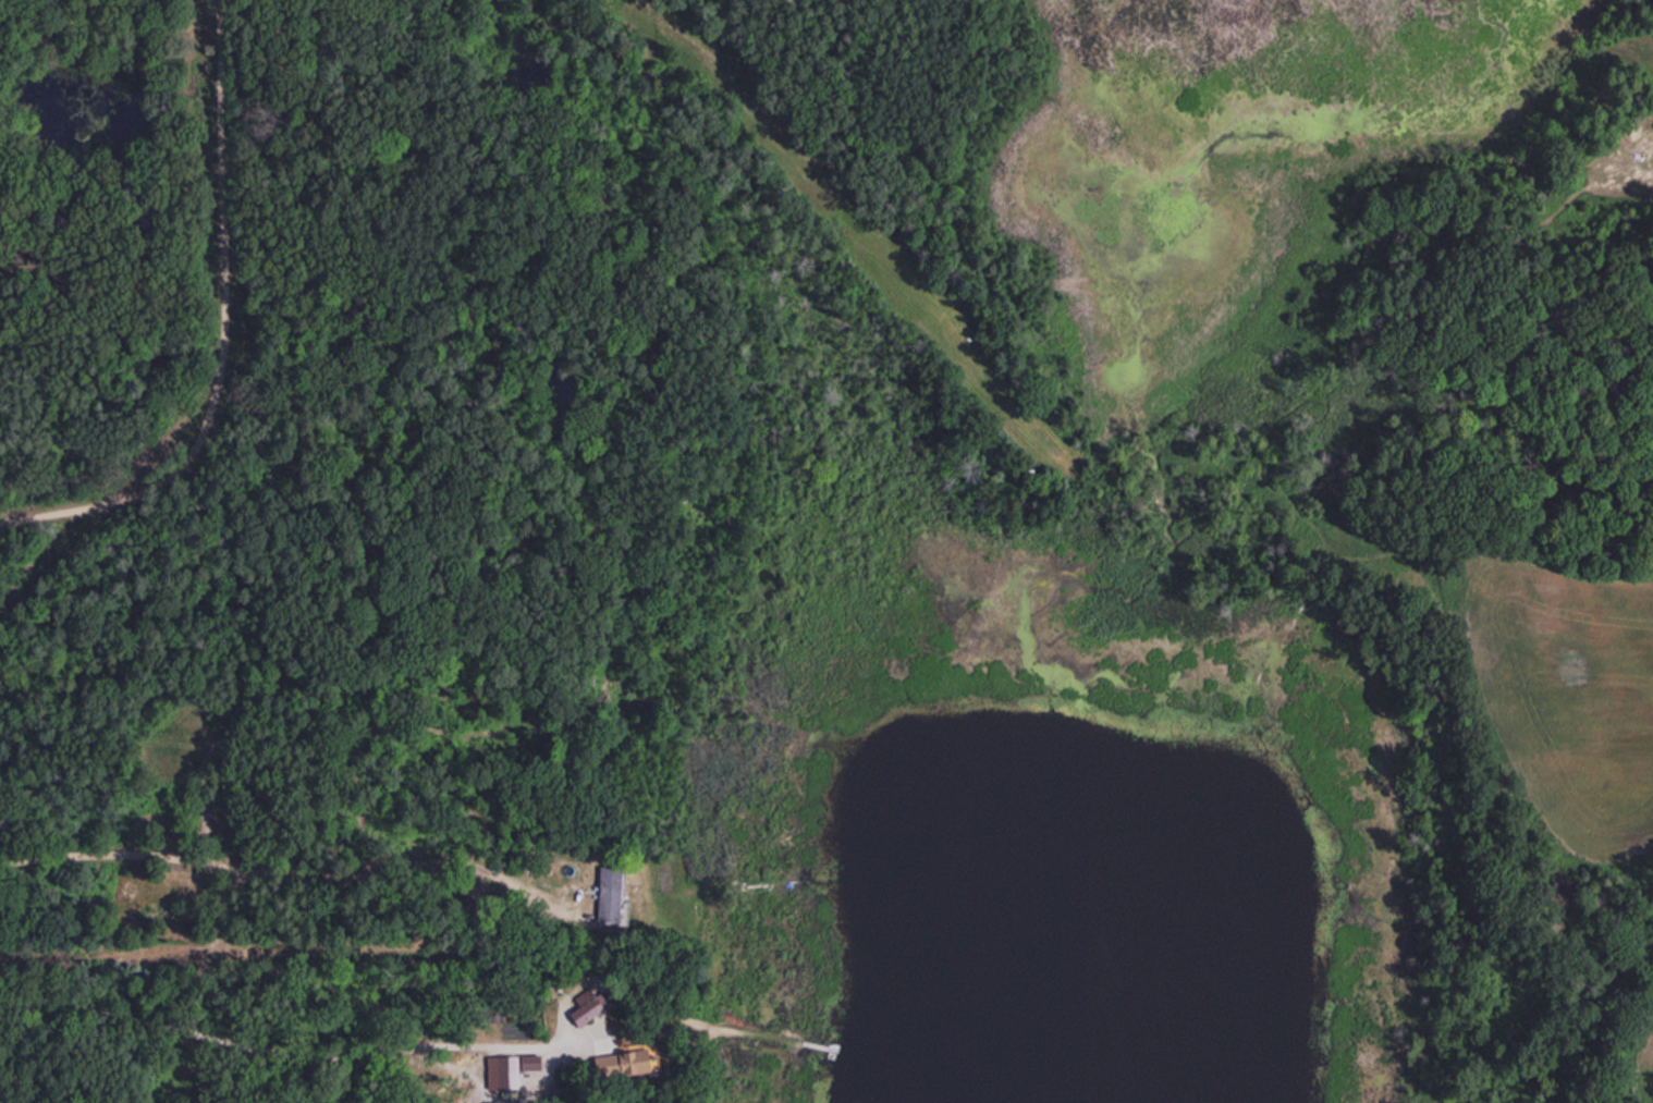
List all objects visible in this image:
road: (221, 333)
building: (607, 894)
building: (620, 1063)
building: (521, 1075)

